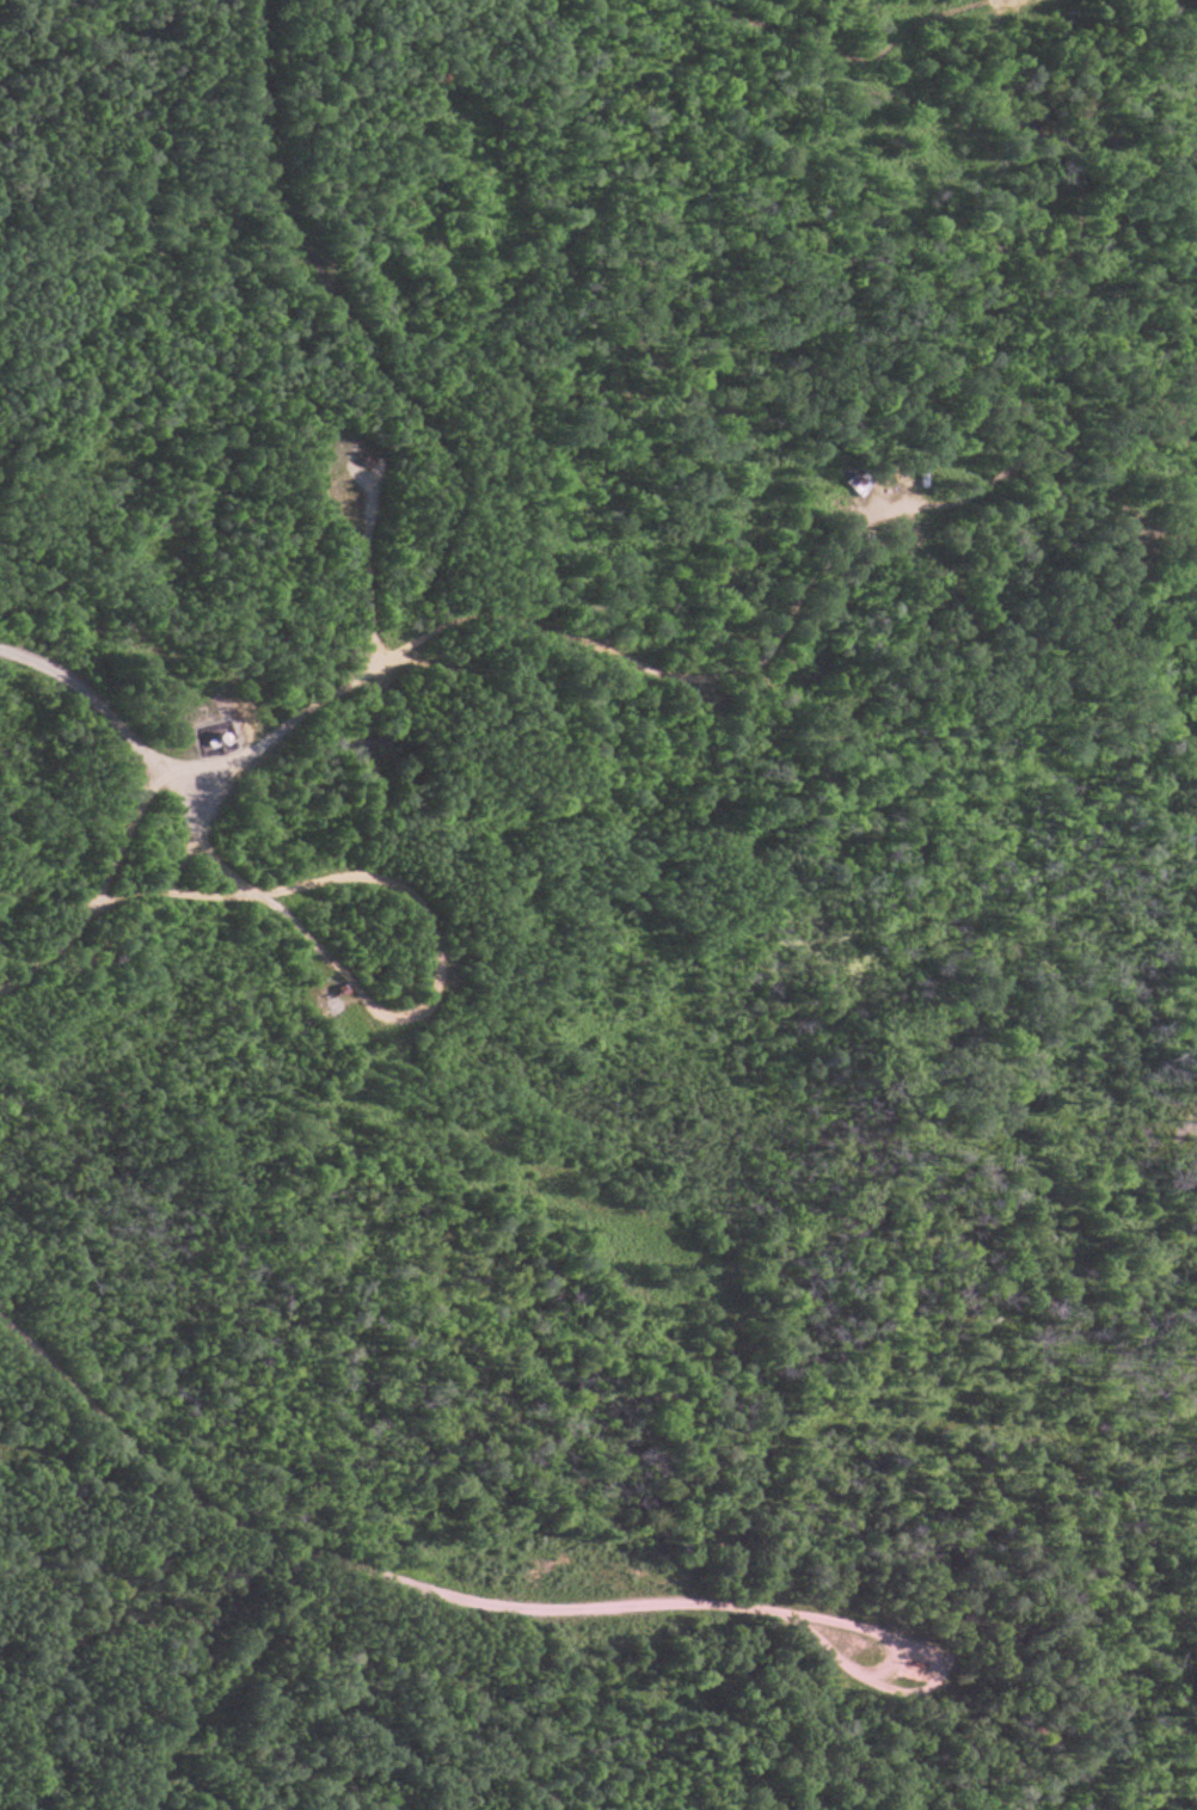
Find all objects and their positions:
petroleum well: (369, 454)
building: (855, 484)
road: (108, 693)
road: (103, 888)
petroleum well: (340, 992)
road: (407, 1585)
petroleum well: (927, 1659)

